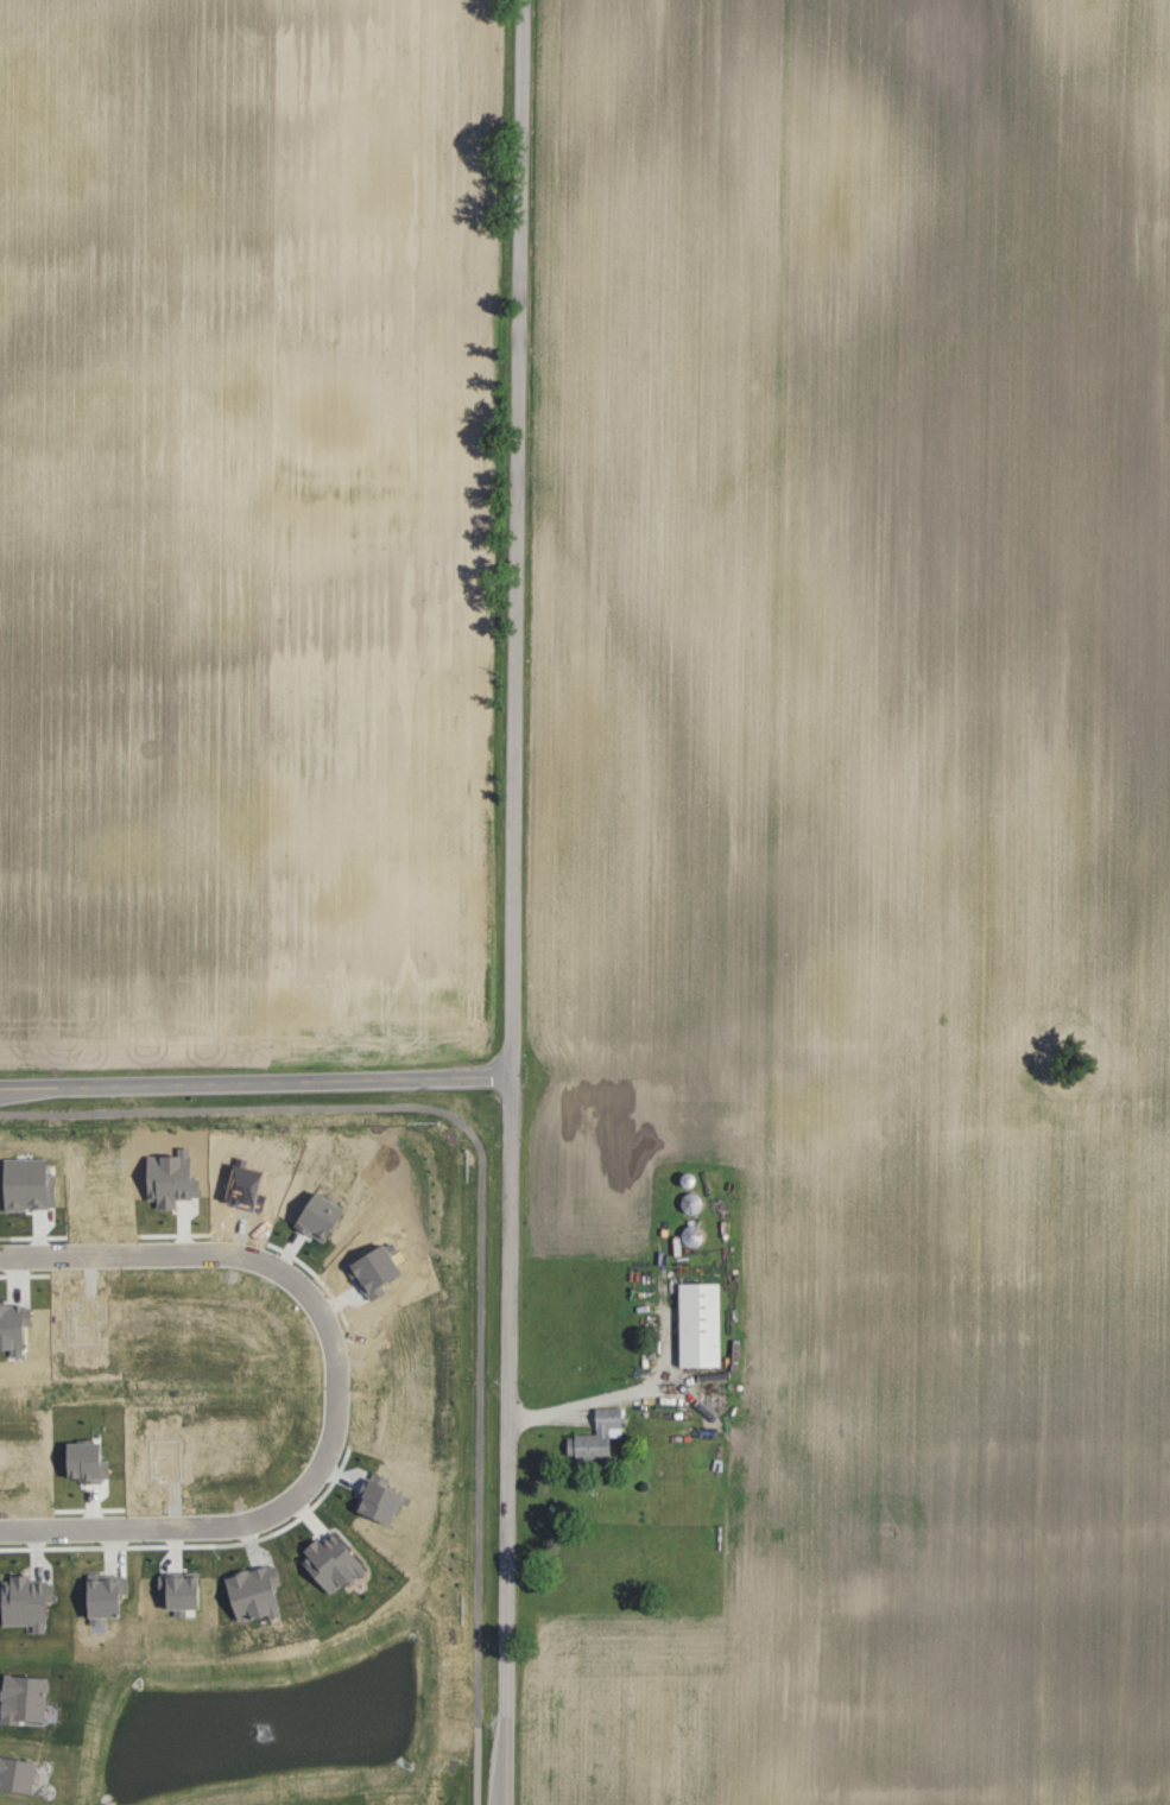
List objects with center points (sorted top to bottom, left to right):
road: (512, 901)
road: (255, 1079)
building: (678, 1240)
road: (303, 1288)
building: (694, 1323)
road: (632, 1394)
building: (590, 1434)
building: (78, 1461)
road: (107, 1527)
building: (247, 1591)
building: (97, 1595)
building: (21, 1601)
building: (19, 1696)
building: (12, 1772)

